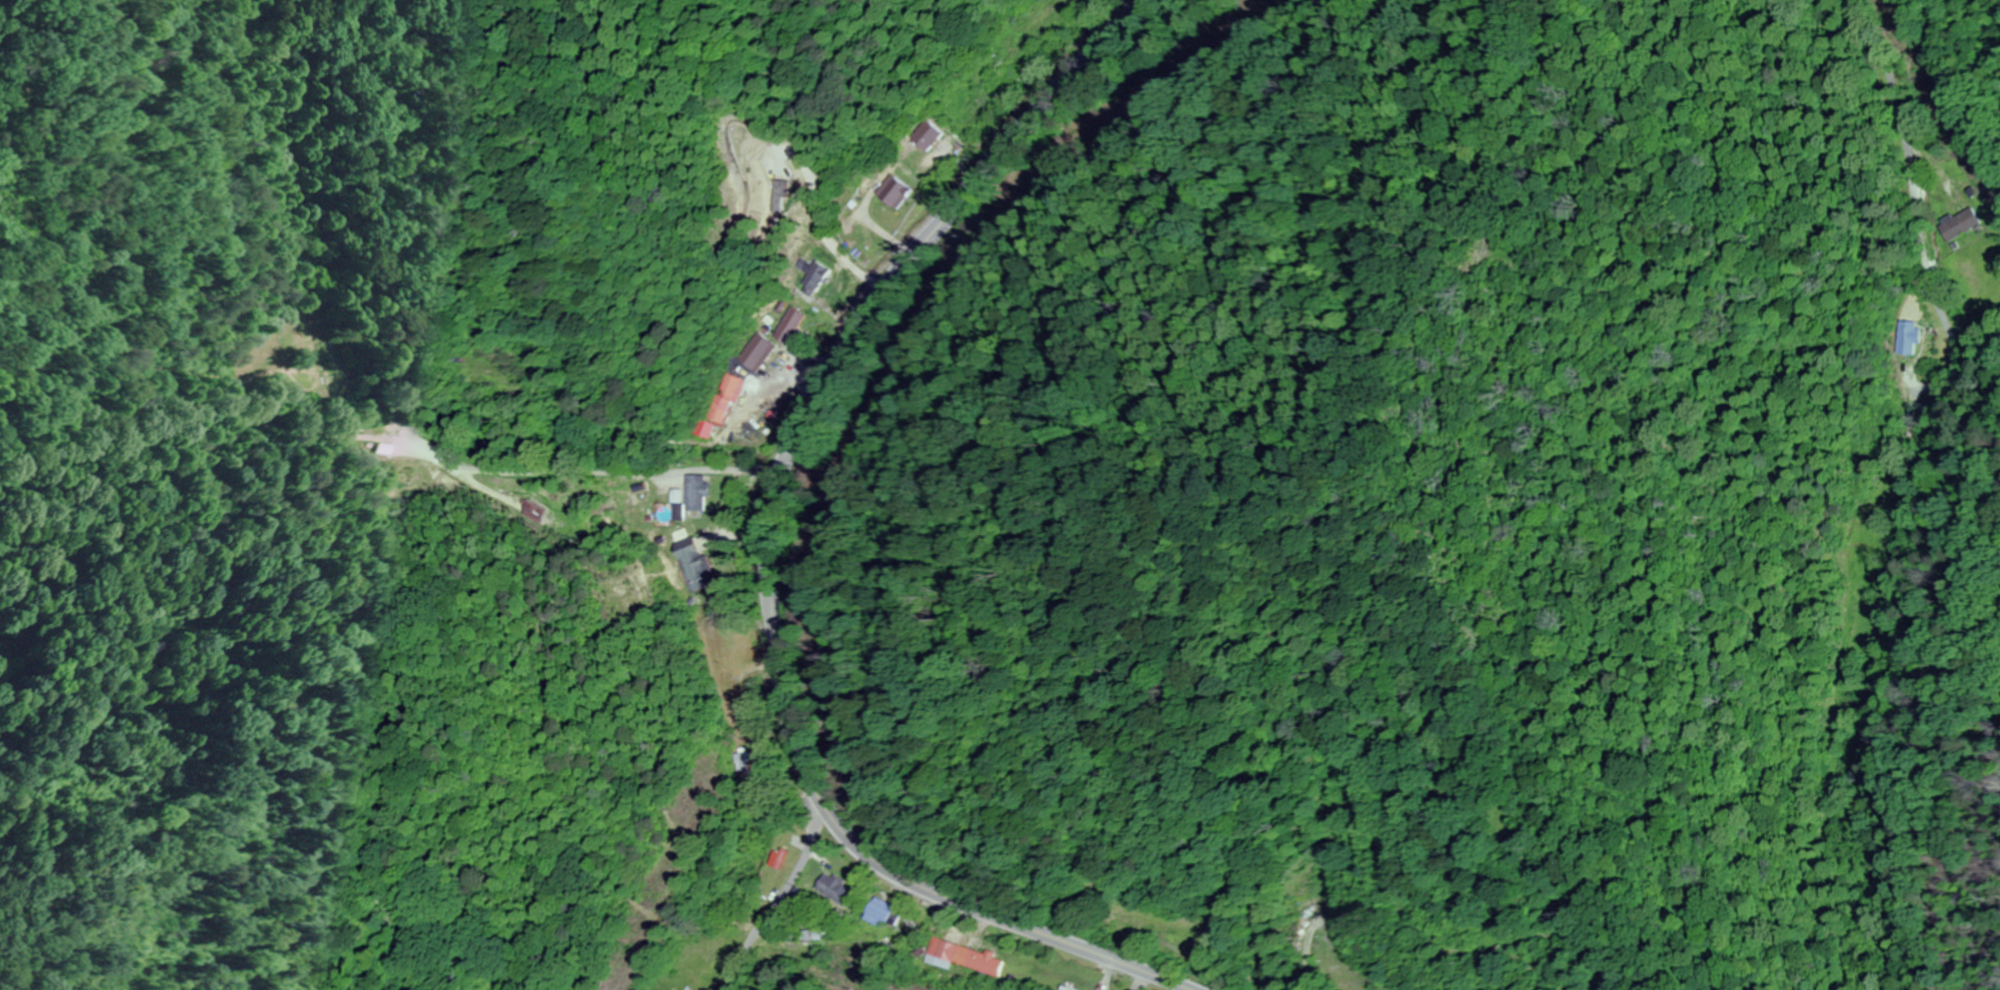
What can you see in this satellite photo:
road: (1903, 114)
building: (934, 135)
building: (903, 192)
building: (787, 194)
road: (1993, 203)
road: (1913, 216)
road: (945, 220)
building: (1962, 224)
building: (821, 276)
building: (794, 326)
building: (1914, 337)
building: (759, 352)
road: (1942, 358)
building: (731, 399)
road: (390, 406)
building: (704, 494)
building: (702, 564)
building: (747, 765)
road: (833, 830)
road: (799, 859)
building: (839, 890)
road: (779, 897)
building: (1194, 932)
building: (964, 958)
building: (1070, 988)

